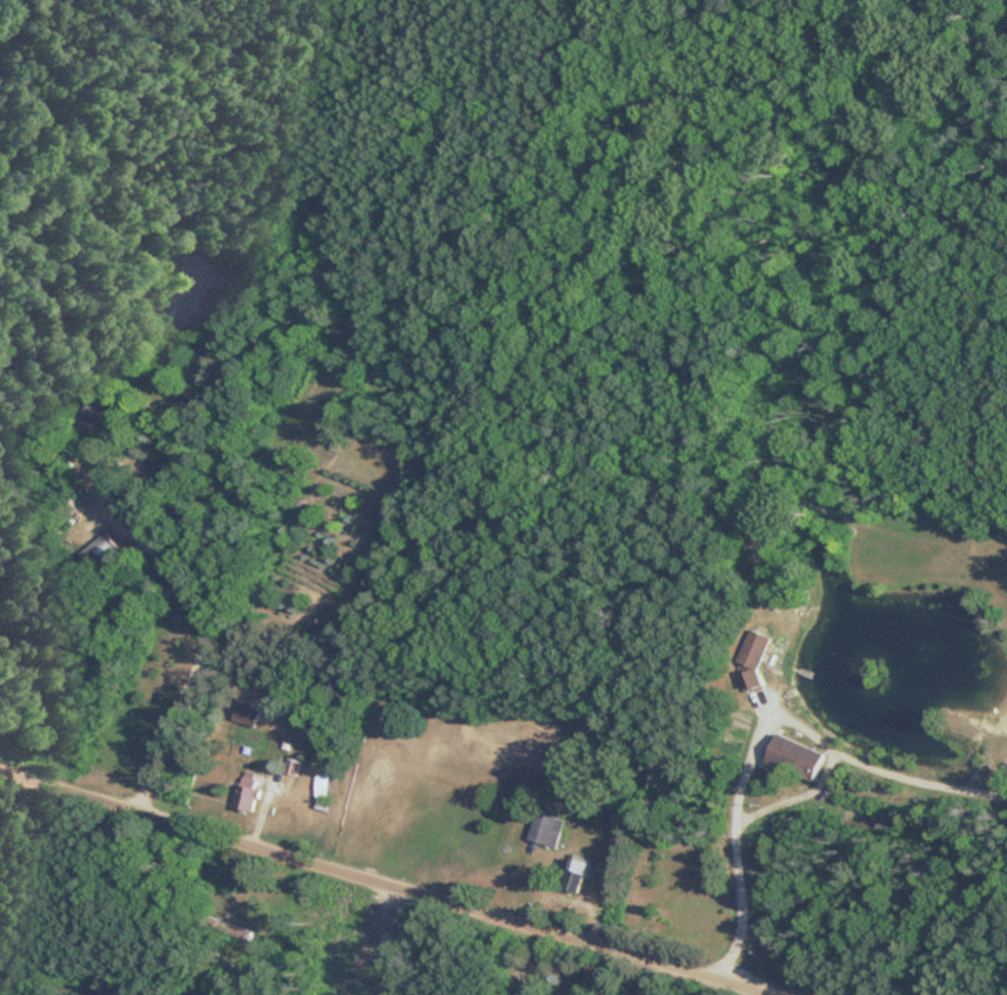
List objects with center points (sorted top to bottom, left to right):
park: (494, 110)
road: (197, 654)
road: (751, 749)
building: (796, 758)
building: (322, 791)
building: (246, 794)
building: (546, 829)
building: (576, 874)
road: (370, 886)
park: (389, 939)
road: (528, 963)

